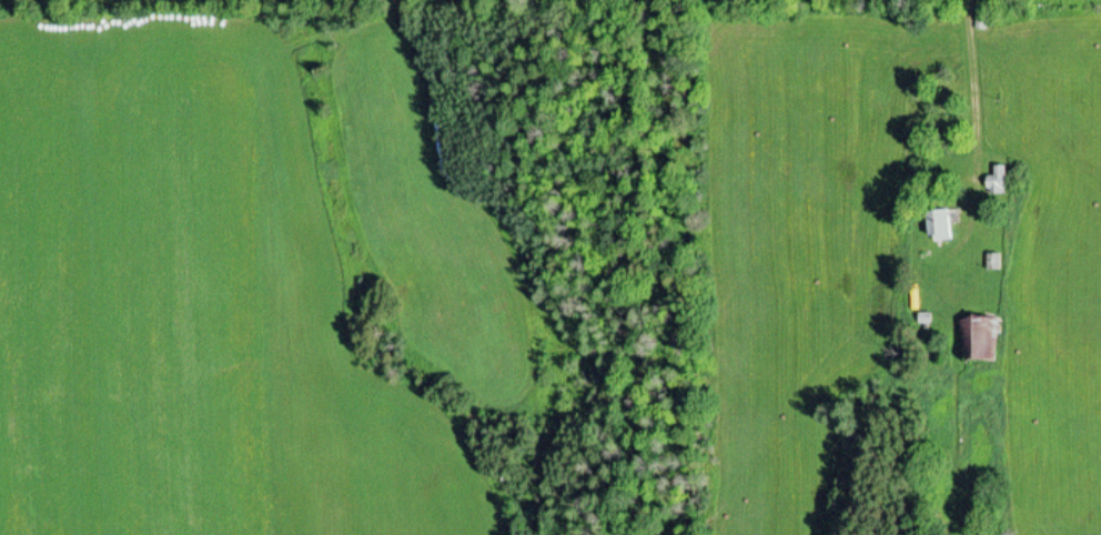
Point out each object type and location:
building: (936, 226)

